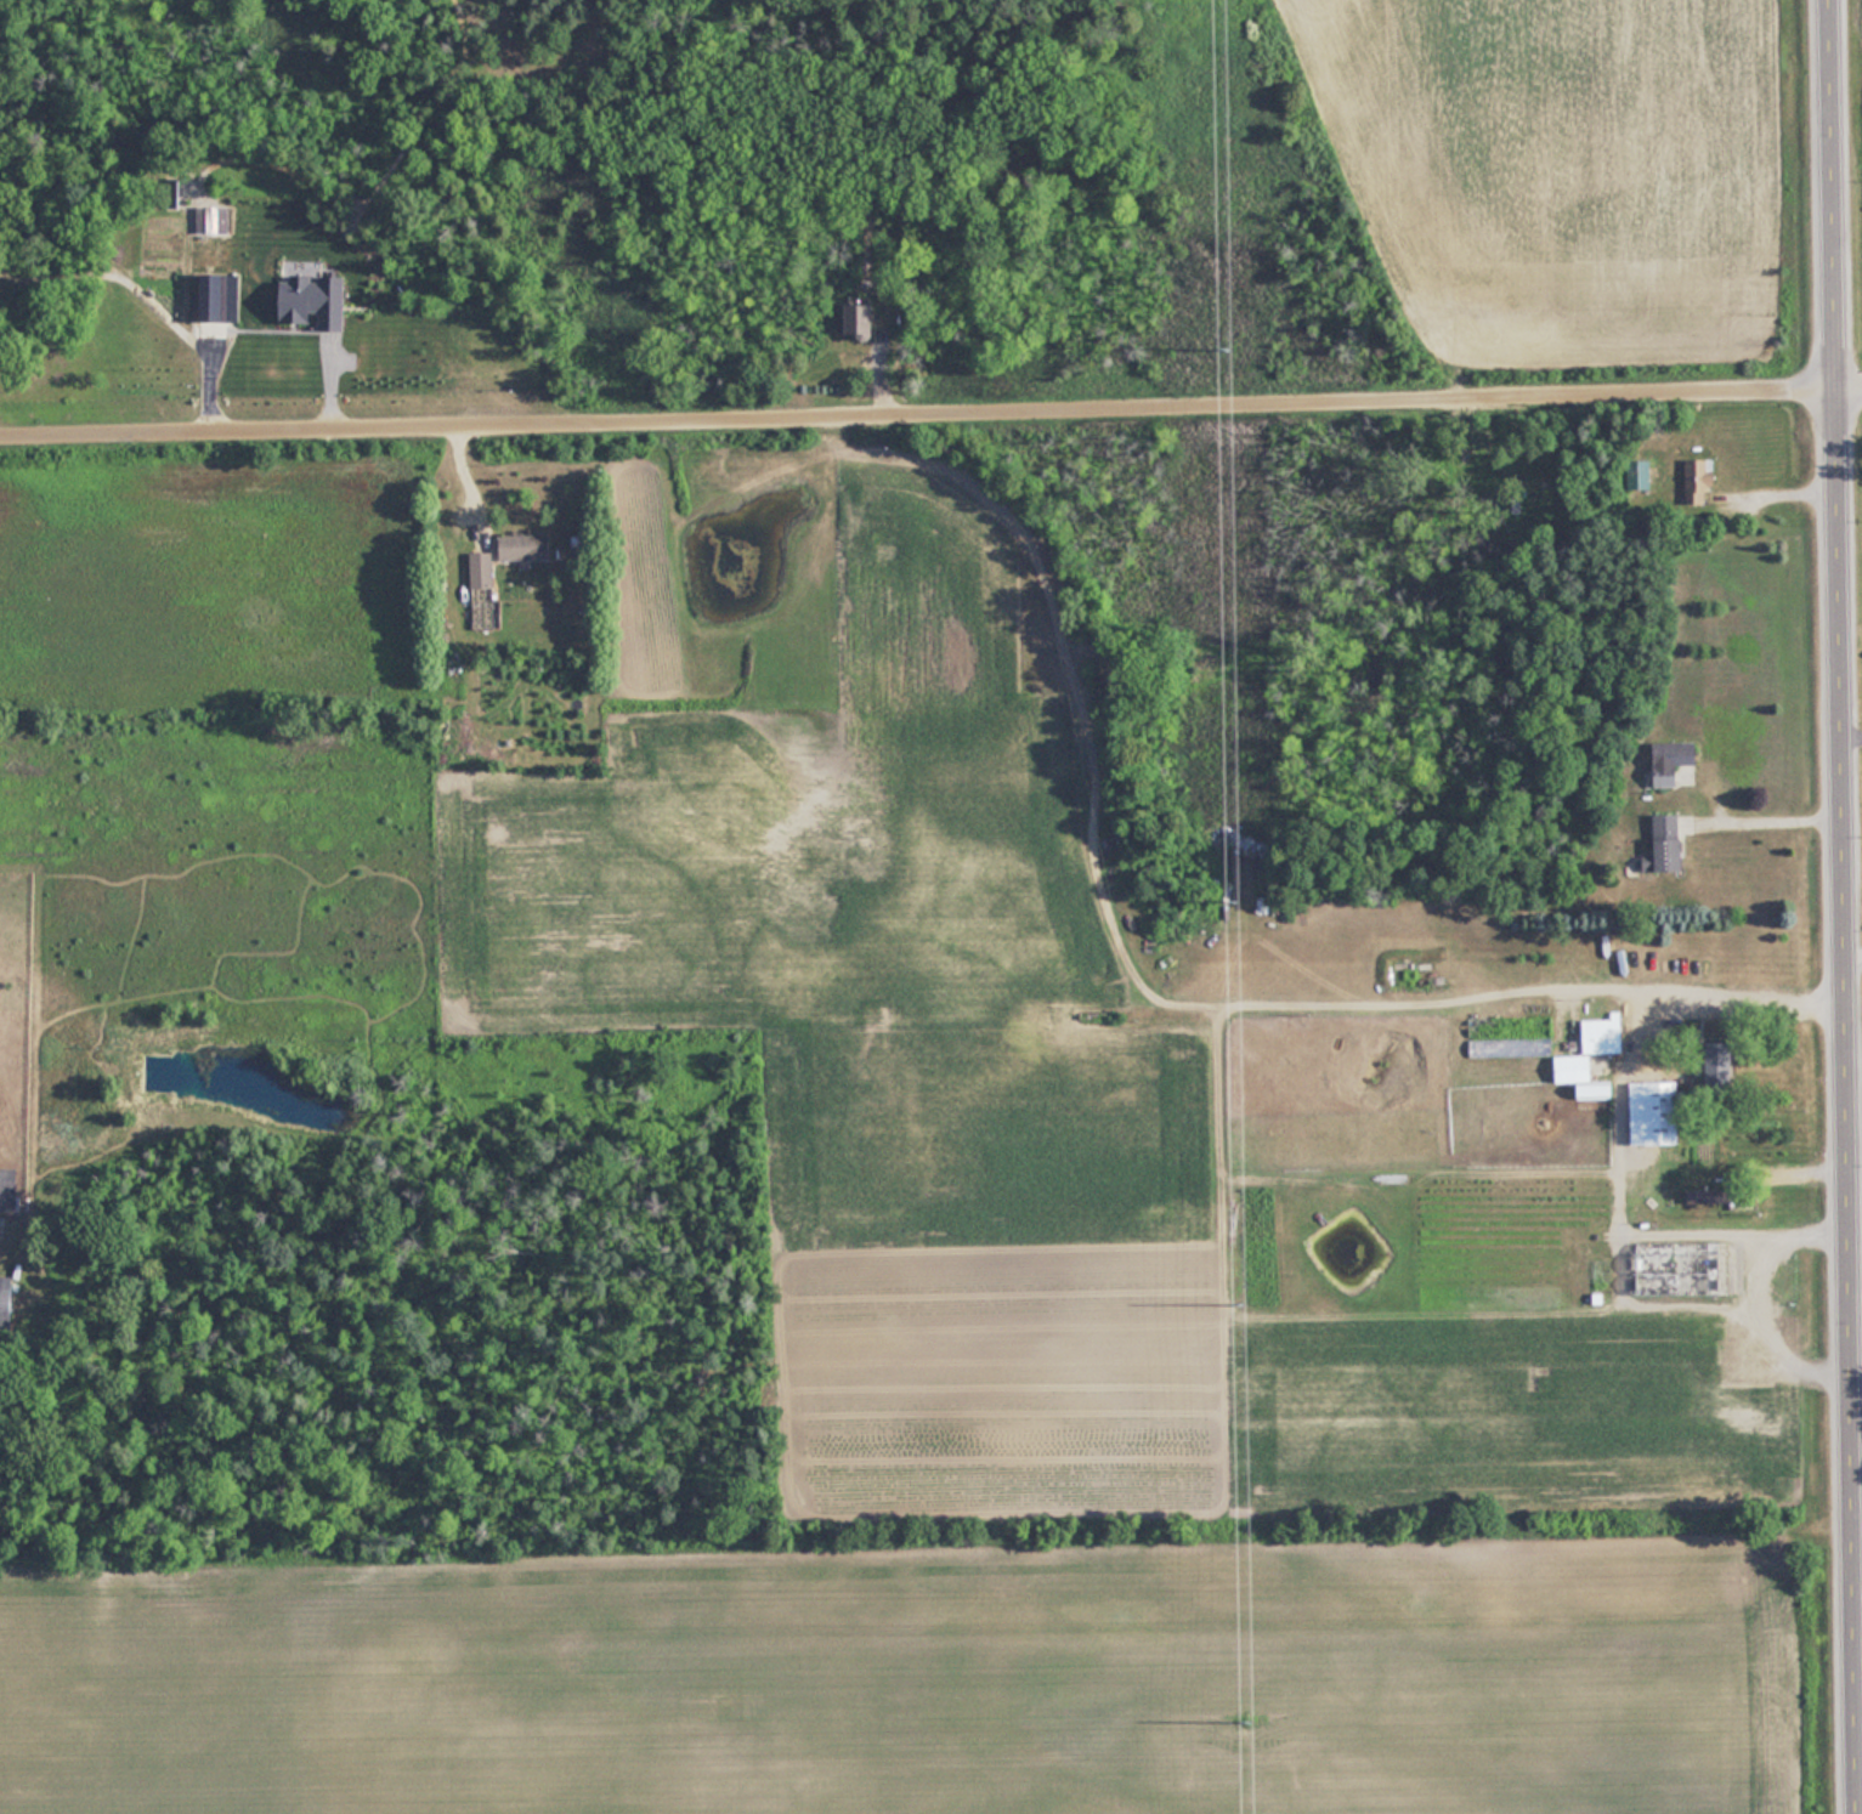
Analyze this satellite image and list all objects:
building: (865, 318)
power tower: (1222, 347)
road: (1850, 391)
road: (918, 420)
building: (1699, 478)
building: (526, 548)
building: (482, 571)
road: (1852, 733)
building: (1671, 761)
road: (1767, 820)
building: (1670, 843)
power tower: (1230, 902)
road: (1844, 907)
road: (1853, 951)
road: (1635, 996)
building: (1602, 1034)
building: (1511, 1047)
building: (1573, 1068)
building: (1595, 1092)
building: (1656, 1113)
building: (7, 1189)
building: (1719, 1196)
power tower: (1238, 1288)
building: (6, 1302)
road: (1858, 1574)
power tower: (1245, 1722)

